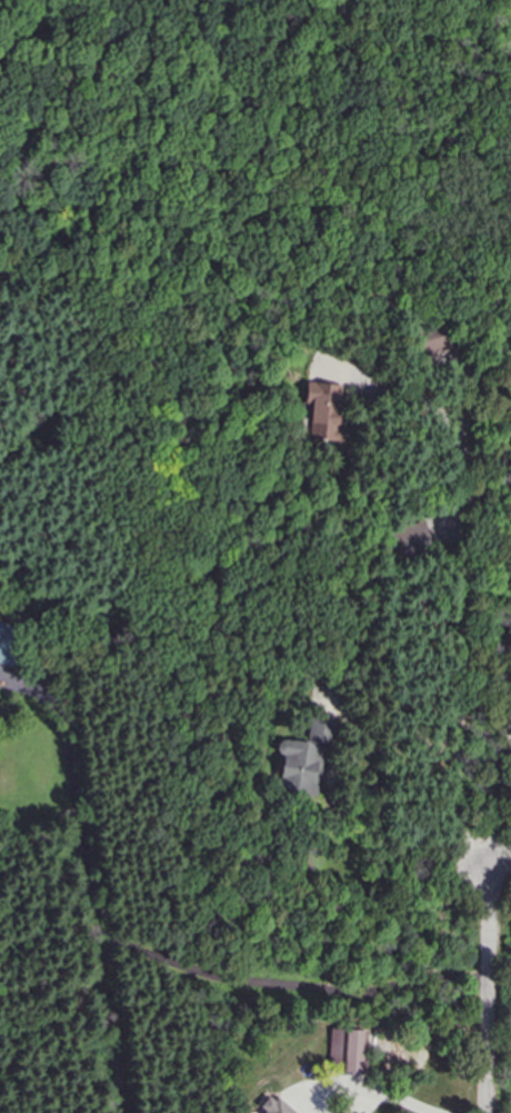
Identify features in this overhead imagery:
building: (324, 410)
building: (299, 766)
road: (497, 857)
road: (156, 956)
road: (487, 985)
road: (499, 1042)
building: (349, 1049)
road: (398, 1100)
building: (274, 1106)

